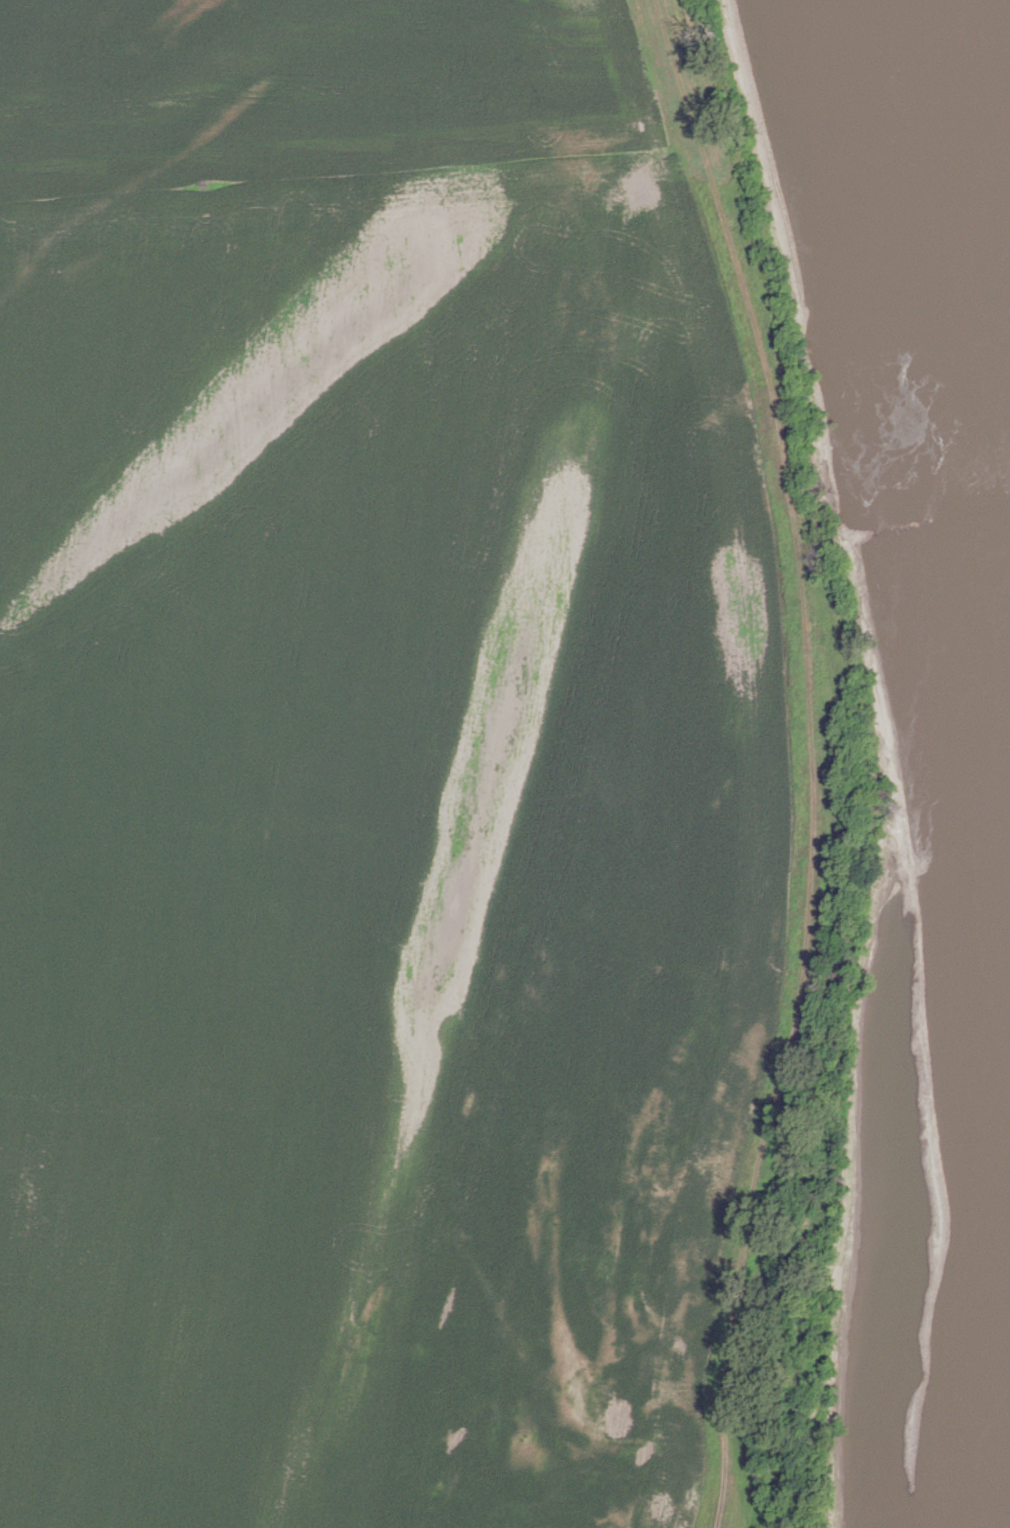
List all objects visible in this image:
road: (813, 758)
crop: (370, 771)

